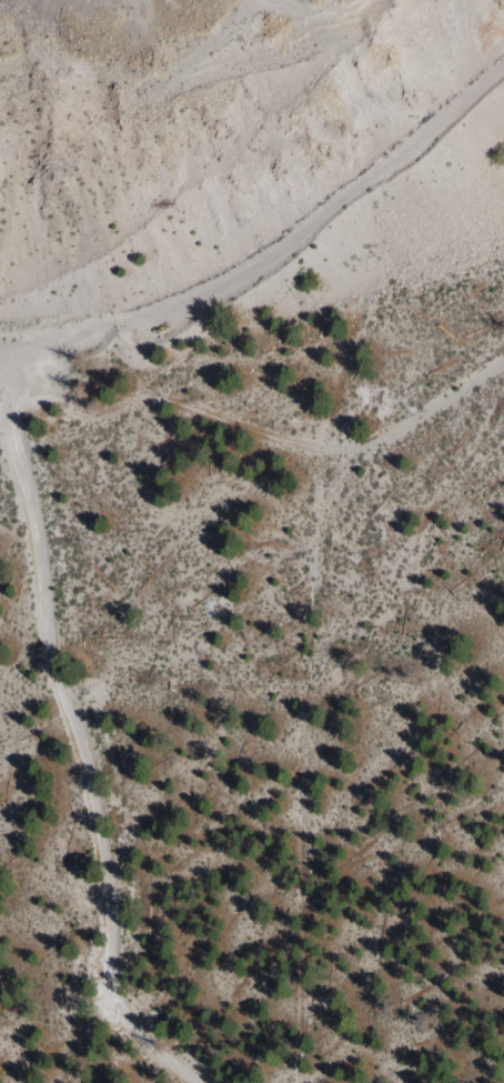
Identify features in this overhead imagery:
quarry: (185, 33)
road: (12, 394)
road: (270, 440)
road: (32, 461)

